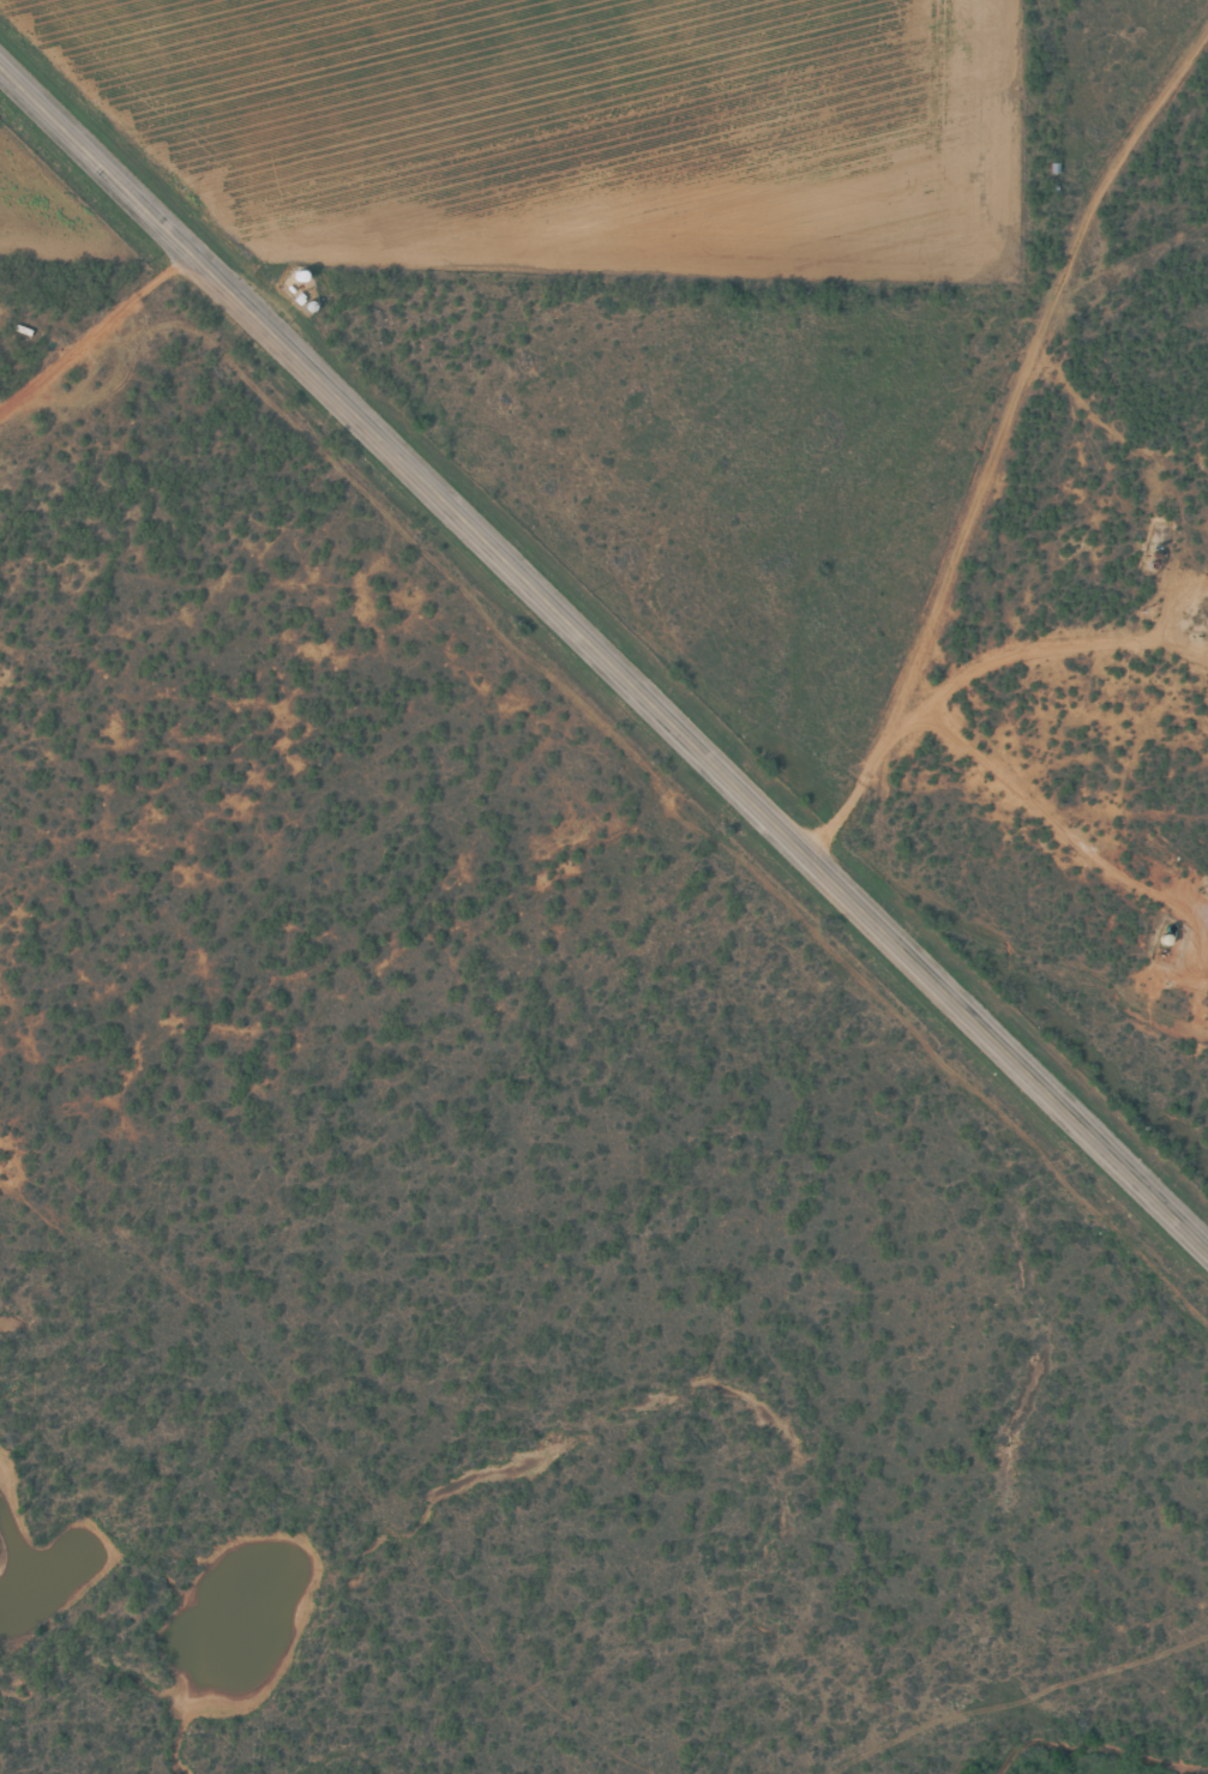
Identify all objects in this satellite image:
water tower: (307, 293)
road: (103, 353)
road: (1020, 468)
road: (603, 655)

